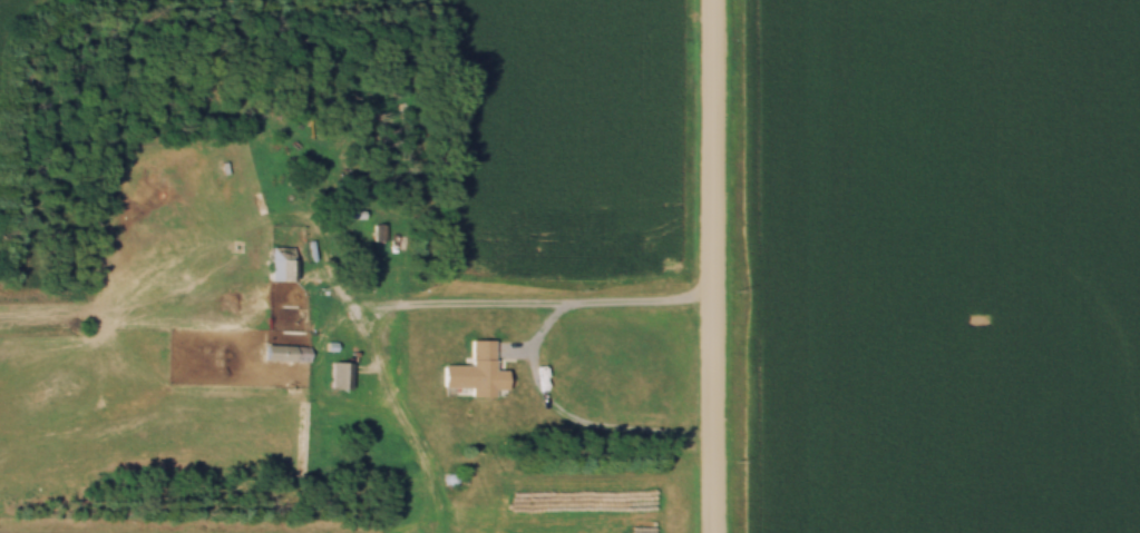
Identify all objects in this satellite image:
building: (281, 263)
road: (713, 266)
building: (285, 353)
road: (533, 362)
building: (472, 371)
building: (338, 374)

